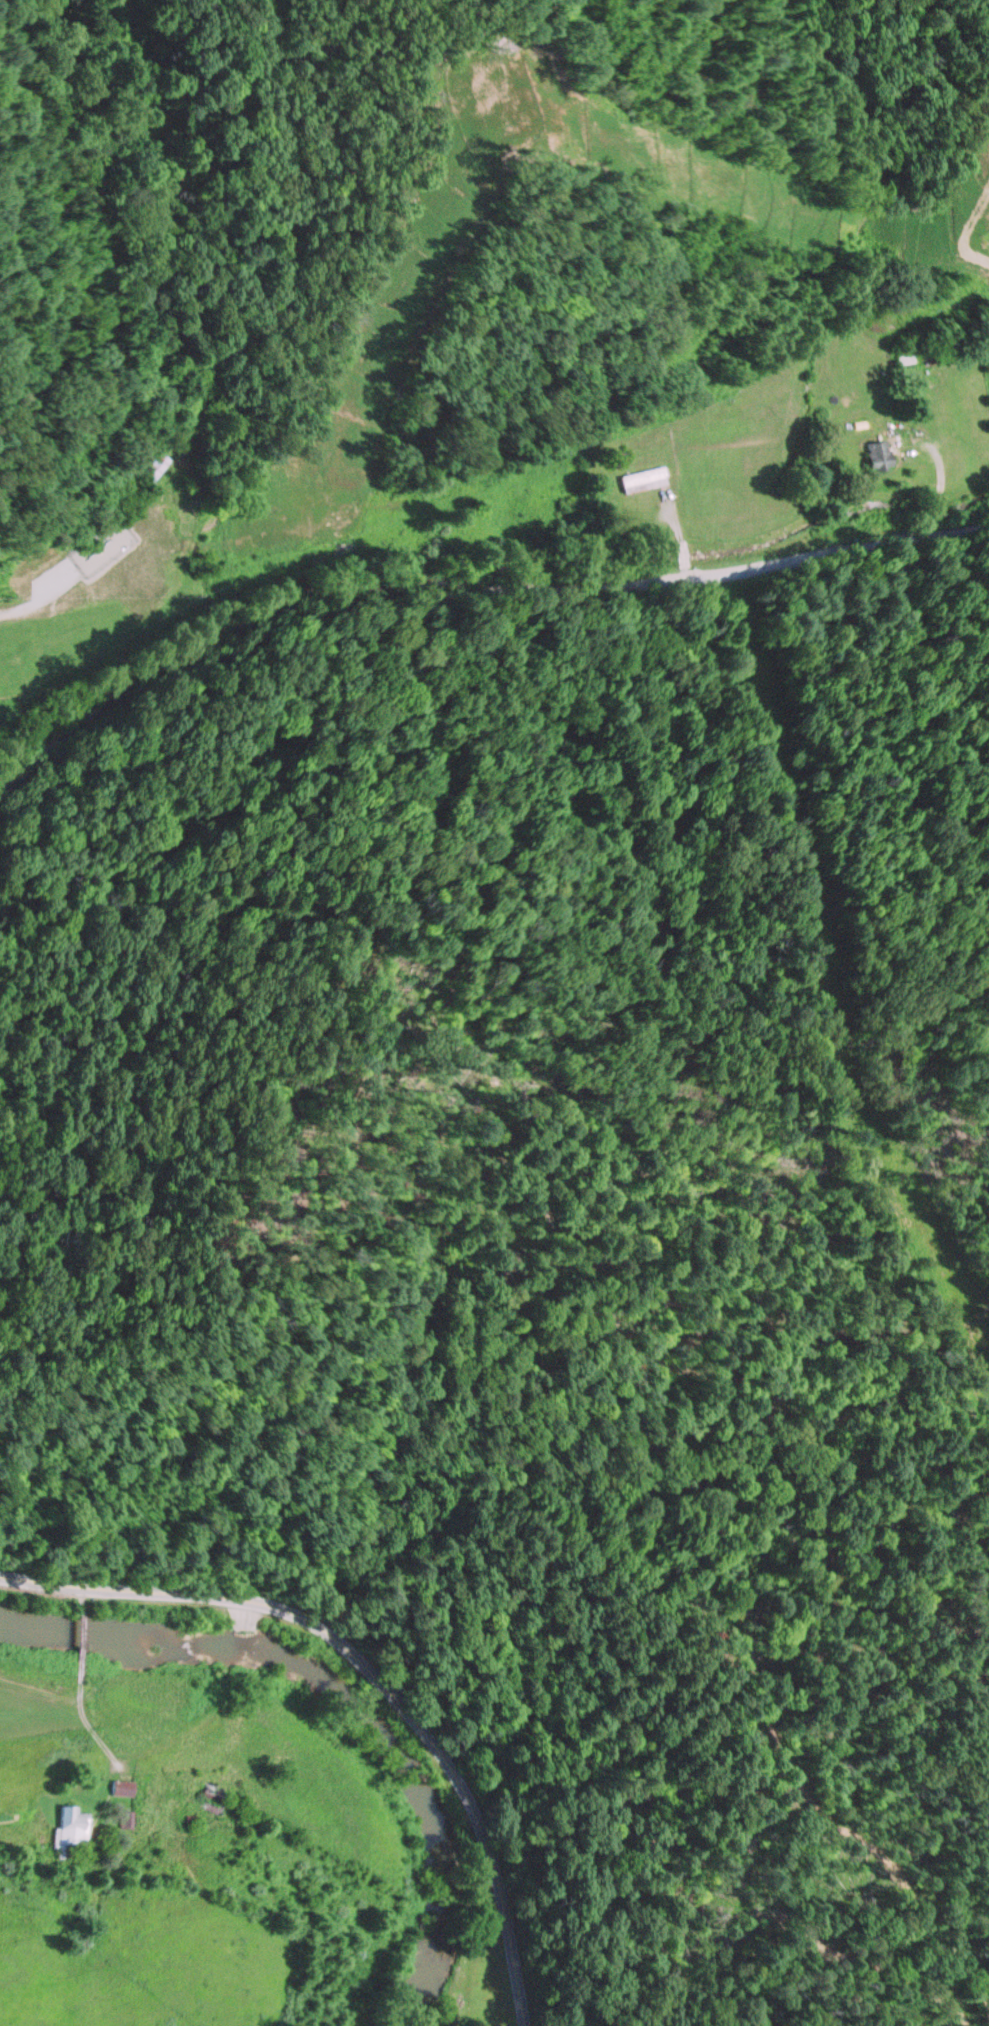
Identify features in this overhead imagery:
building: (872, 456)
building: (147, 468)
building: (640, 480)
building: (169, 490)
road: (478, 588)
road: (122, 1589)
road: (75, 1592)
road: (76, 1639)
river: (346, 1694)
road: (84, 1723)
road: (167, 1742)
road: (448, 1768)
building: (118, 1788)
building: (207, 1796)
building: (125, 1819)
building: (188, 1820)
building: (69, 1830)

